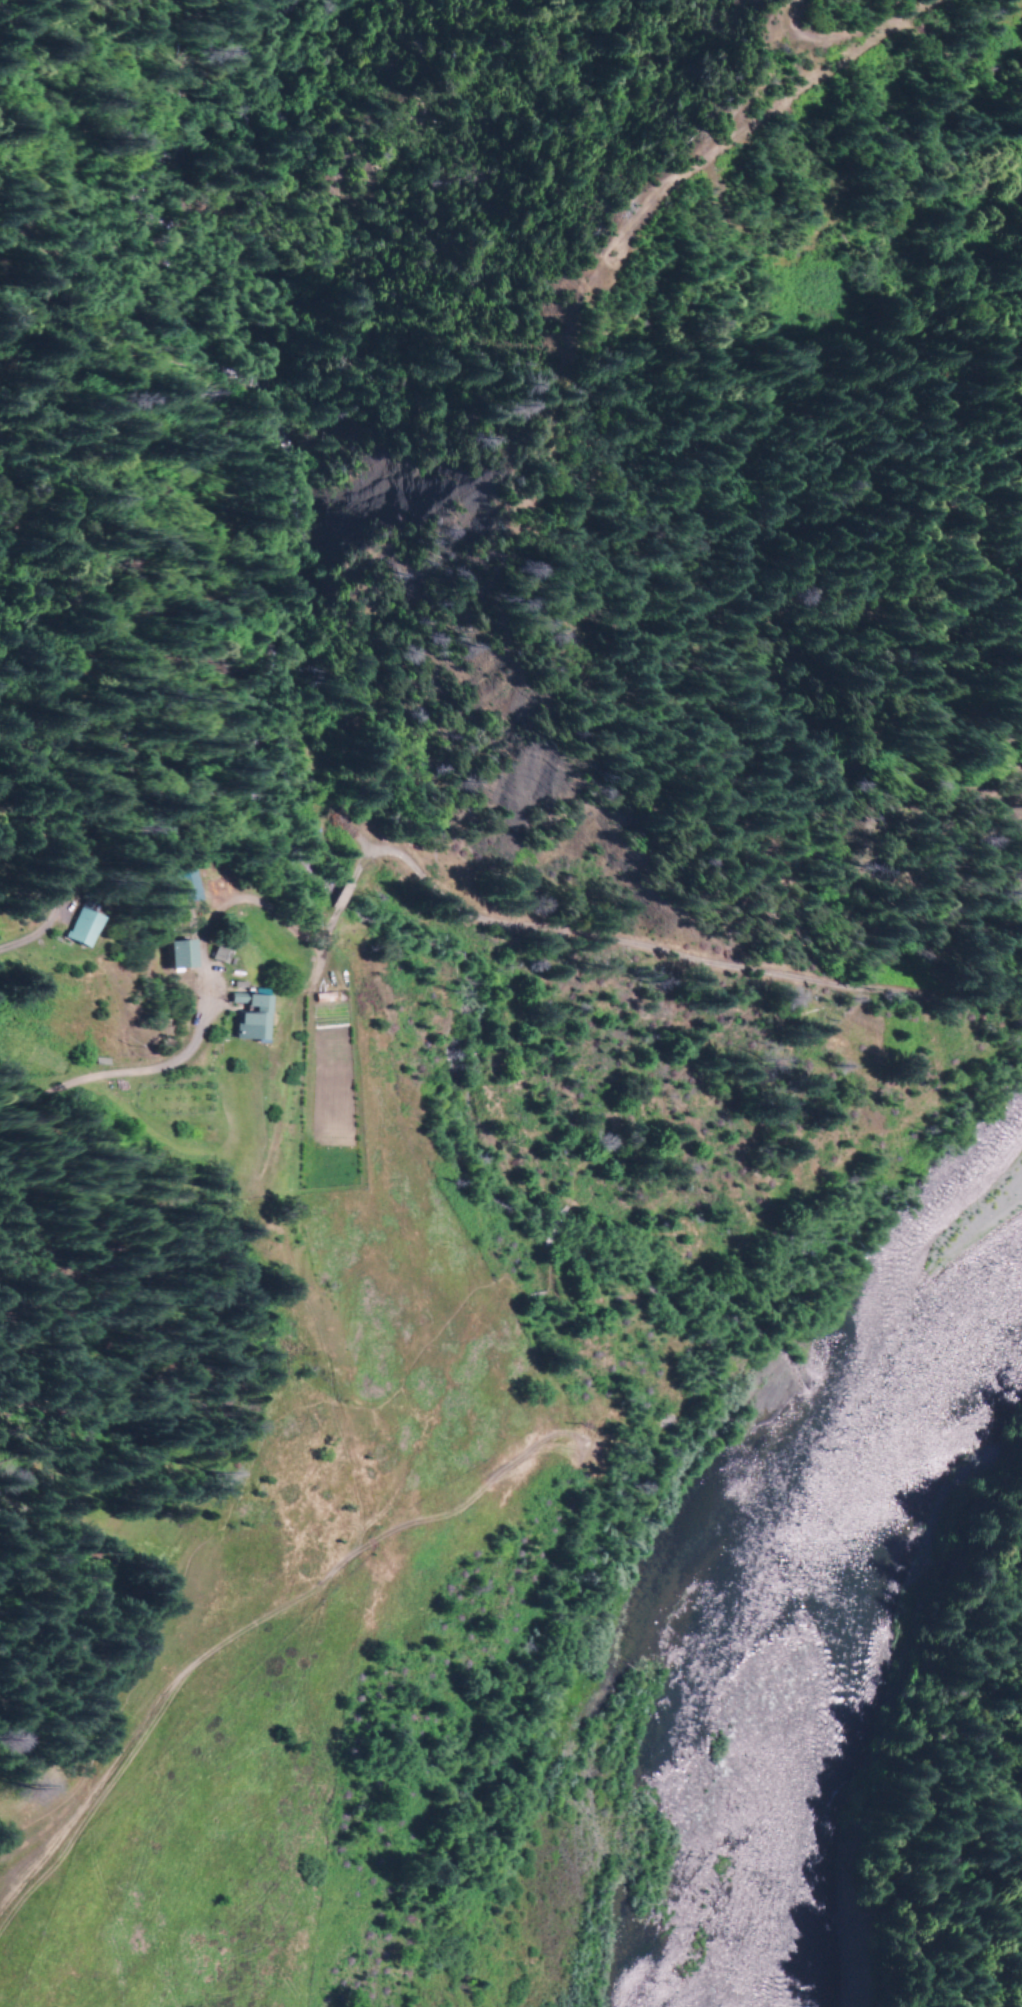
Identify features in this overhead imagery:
building: (184, 886)
building: (79, 929)
building: (178, 955)
building: (216, 957)
road: (757, 1005)
building: (248, 1021)
road: (127, 1069)
road: (547, 1232)
road: (237, 1474)
river: (799, 1610)
road: (254, 1614)

